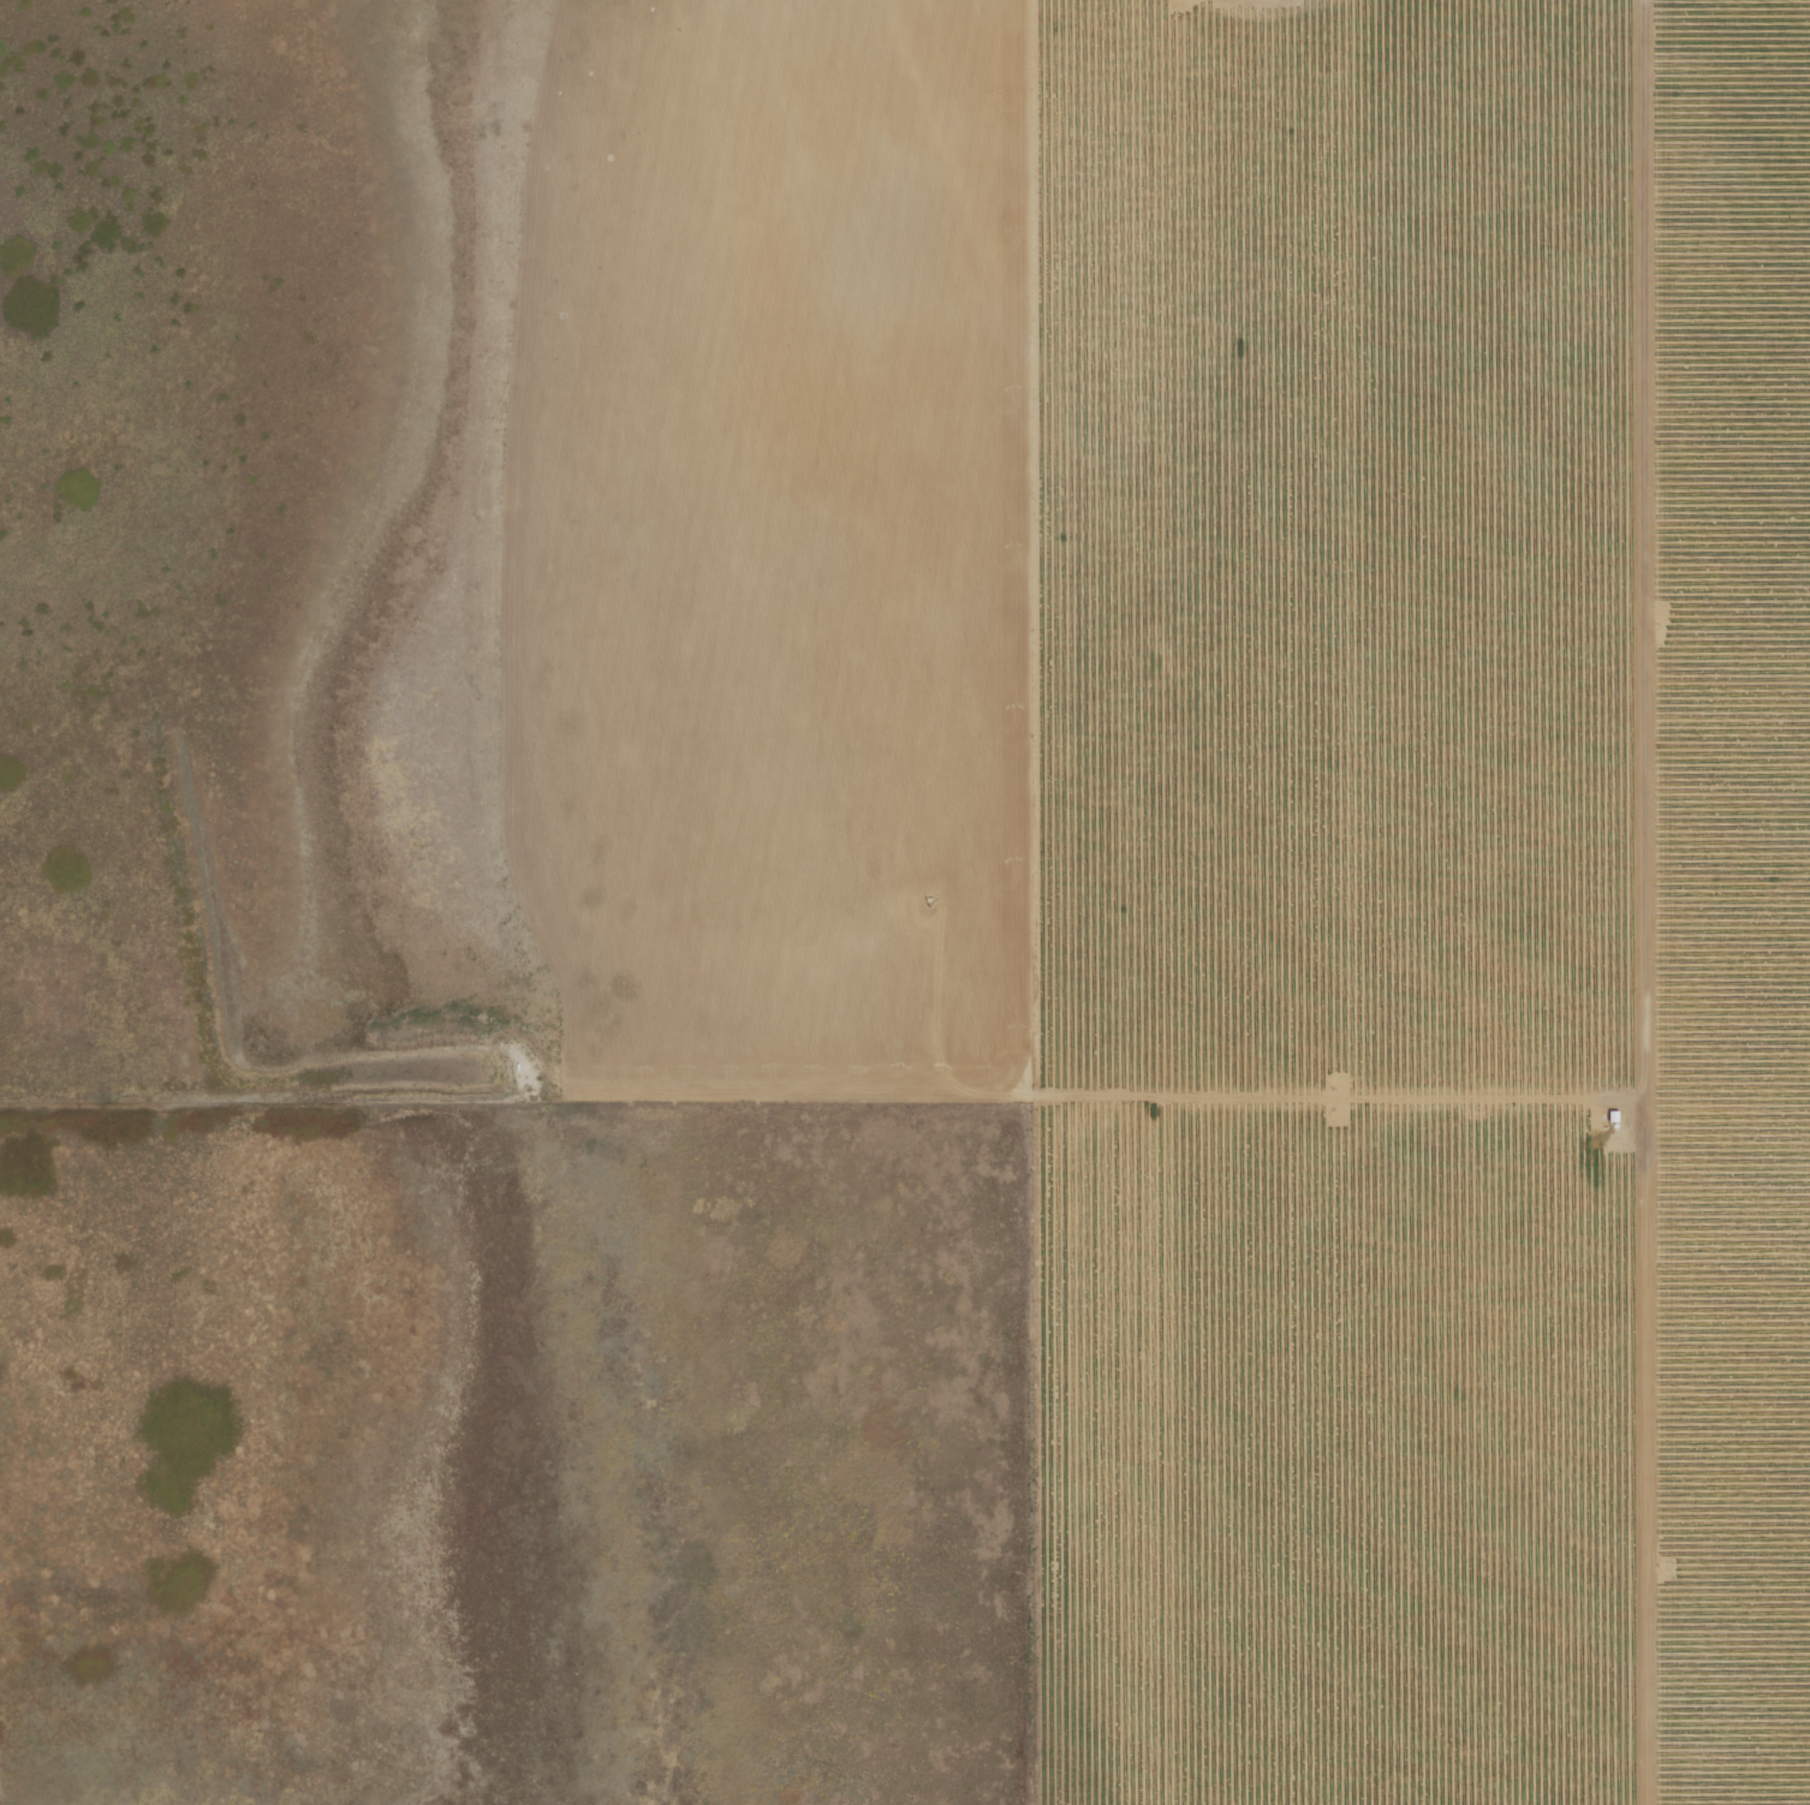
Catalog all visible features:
road: (1665, 7)
road: (1643, 906)

